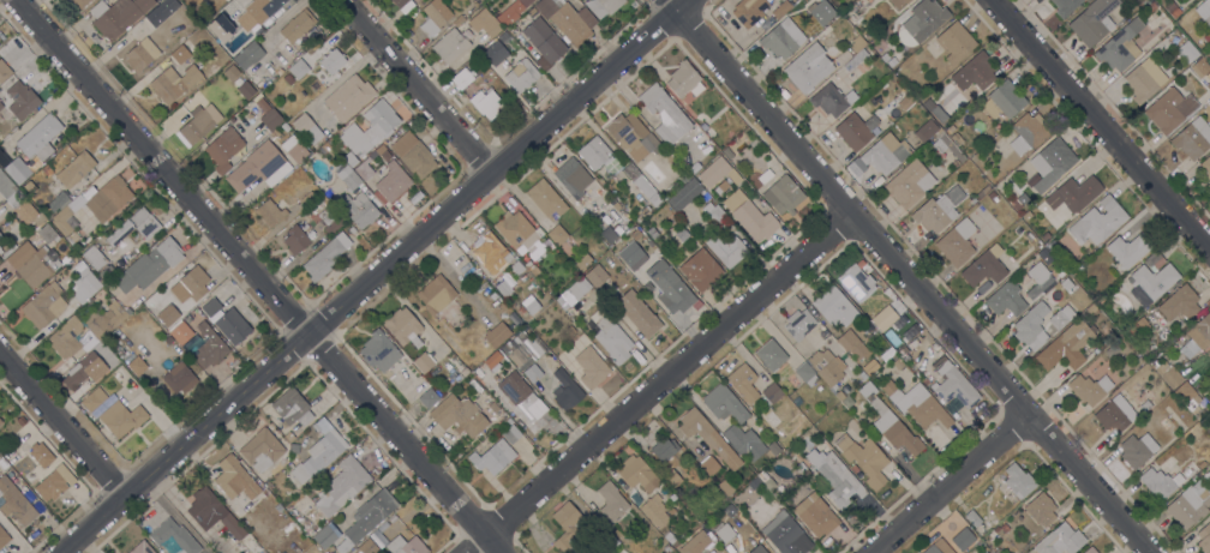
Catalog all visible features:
building: (863, 1)
building: (1136, 1)
building: (80, 2)
building: (898, 2)
building: (402, 5)
building: (603, 6)
building: (1065, 6)
building: (264, 7)
building: (780, 8)
building: (1173, 10)
building: (1204, 10)
building: (749, 11)
building: (820, 11)
building: (511, 12)
building: (116, 14)
building: (156, 16)
building: (435, 17)
building: (567, 19)
building: (457, 20)
building: (920, 22)
building: (1092, 22)
building: (484, 23)
building: (296, 25)
building: (220, 28)
building: (826, 29)
building: (813, 30)
building: (503, 36)
building: (781, 38)
building: (544, 42)
building: (857, 42)
building: (954, 42)
building: (450, 44)
building: (1120, 46)
building: (182, 50)
building: (495, 52)
building: (1187, 52)
building: (142, 54)
building: (248, 55)
building: (333, 60)
building: (856, 65)
building: (808, 67)
building: (1200, 67)
building: (298, 68)
building: (978, 70)
building: (4, 71)
building: (230, 72)
building: (521, 76)
building: (288, 78)
building: (462, 78)
building: (684, 79)
building: (1208, 79)
building: (173, 83)
building: (1139, 84)
road: (418, 85)
building: (242, 88)
building: (348, 97)
building: (22, 100)
building: (832, 100)
building: (1004, 100)
building: (909, 101)
building: (927, 103)
building: (489, 104)
building: (1, 106)
building: (1169, 109)
building: (664, 114)
building: (268, 115)
building: (381, 118)
road: (1102, 122)
building: (197, 125)
building: (284, 127)
building: (307, 127)
building: (1031, 128)
building: (855, 130)
building: (926, 130)
building: (396, 132)
building: (274, 133)
building: (354, 138)
building: (630, 138)
building: (1192, 138)
building: (327, 146)
building: (947, 146)
building: (34, 148)
building: (223, 148)
building: (294, 149)
building: (382, 151)
building: (727, 151)
building: (594, 152)
building: (885, 154)
building: (413, 155)
building: (975, 158)
building: (351, 162)
building: (1050, 163)
building: (259, 167)
building: (694, 167)
building: (1205, 167)
building: (74, 169)
building: (364, 169)
building: (717, 173)
building: (573, 176)
building: (765, 176)
building: (348, 178)
building: (391, 184)
building: (909, 184)
building: (641, 185)
building: (1209, 185)
building: (6, 186)
building: (29, 187)
building: (719, 187)
building: (76, 188)
building: (984, 190)
building: (684, 194)
building: (783, 194)
building: (1074, 194)
building: (706, 196)
building: (591, 197)
building: (993, 197)
building: (1023, 198)
building: (307, 199)
building: (545, 199)
building: (59, 202)
building: (95, 203)
building: (599, 203)
building: (1016, 204)
building: (358, 209)
building: (25, 210)
building: (938, 210)
building: (269, 212)
building: (642, 212)
building: (713, 212)
building: (749, 216)
building: (1097, 221)
building: (334, 224)
building: (136, 226)
building: (517, 230)
building: (48, 234)
building: (557, 234)
building: (609, 234)
building: (635, 234)
building: (682, 234)
building: (0, 235)
building: (1029, 236)
building: (72, 238)
building: (296, 239)
building: (957, 242)
building: (726, 248)
building: (1128, 248)
building: (0, 250)
building: (7, 252)
building: (490, 252)
building: (1043, 252)
building: (20, 254)
building: (94, 257)
building: (325, 257)
building: (1154, 260)
building: (583, 262)
building: (37, 265)
building: (149, 265)
building: (516, 266)
building: (984, 266)
building: (532, 268)
building: (701, 269)
building: (1060, 271)
building: (106, 272)
road: (371, 274)
building: (595, 275)
road: (899, 276)
road: (250, 278)
building: (1038, 278)
building: (1154, 279)
building: (856, 282)
building: (83, 283)
building: (191, 284)
building: (1066, 284)
building: (445, 285)
building: (669, 287)
building: (503, 288)
building: (571, 293)
building: (155, 296)
building: (433, 296)
building: (1006, 299)
building: (1179, 302)
building: (149, 303)
building: (532, 303)
building: (42, 305)
building: (834, 306)
building: (1091, 308)
building: (154, 309)
building: (521, 311)
building: (639, 313)
building: (168, 314)
building: (1061, 317)
building: (187, 318)
building: (882, 318)
building: (103, 319)
building: (227, 320)
building: (799, 323)
building: (403, 326)
building: (1031, 326)
building: (1130, 329)
building: (571, 330)
building: (181, 332)
building: (496, 333)
building: (519, 335)
building: (1197, 336)
building: (66, 337)
building: (611, 337)
building: (851, 343)
building: (1066, 345)
building: (209, 347)
building: (1112, 350)
building: (378, 351)
building: (771, 355)
building: (903, 355)
building: (492, 359)
building: (525, 361)
building: (423, 362)
building: (898, 363)
building: (137, 365)
building: (591, 367)
building: (869, 367)
building: (84, 369)
building: (826, 369)
building: (805, 374)
building: (1168, 374)
building: (179, 378)
road: (651, 381)
building: (743, 381)
building: (953, 384)
building: (1089, 387)
building: (845, 389)
building: (565, 391)
building: (769, 393)
building: (520, 396)
building: (94, 398)
building: (429, 398)
building: (1188, 398)
building: (724, 403)
building: (917, 404)
building: (292, 407)
building: (493, 407)
building: (1145, 407)
building: (1115, 413)
building: (459, 415)
building: (121, 417)
building: (0, 421)
road: (62, 422)
building: (889, 422)
building: (511, 434)
building: (707, 435)
building: (289, 437)
building: (743, 440)
building: (262, 449)
building: (664, 449)
building: (772, 449)
building: (1137, 450)
building: (41, 453)
building: (319, 456)
building: (492, 457)
building: (864, 458)
building: (281, 461)
building: (23, 464)
building: (709, 465)
building: (853, 468)
building: (635, 470)
building: (30, 475)
building: (762, 476)
building: (234, 477)
building: (835, 477)
building: (671, 479)
building: (1018, 481)
building: (54, 482)
road: (944, 482)
building: (1160, 482)
building: (751, 483)
building: (771, 485)
building: (341, 486)
building: (725, 487)
building: (672, 497)
building: (16, 501)
building: (611, 501)
building: (1190, 503)
building: (1041, 509)
building: (268, 510)
building: (655, 510)
building: (730, 510)
building: (212, 512)
building: (369, 516)
building: (817, 518)
building: (972, 518)
building: (570, 522)
building: (1005, 528)
building: (290, 529)
building: (725, 531)
building: (604, 534)
building: (786, 534)
building: (174, 536)
building: (324, 536)
building: (4, 537)
building: (670, 537)
building: (1204, 537)
building: (962, 539)
building: (1060, 540)
building: (561, 543)
building: (695, 543)
building: (406, 545)
building: (366, 547)
building: (938, 547)
building: (142, 548)
building: (666, 548)
building: (757, 549)
building: (1090, 549)
building: (984, 552)
building: (986, 552)

